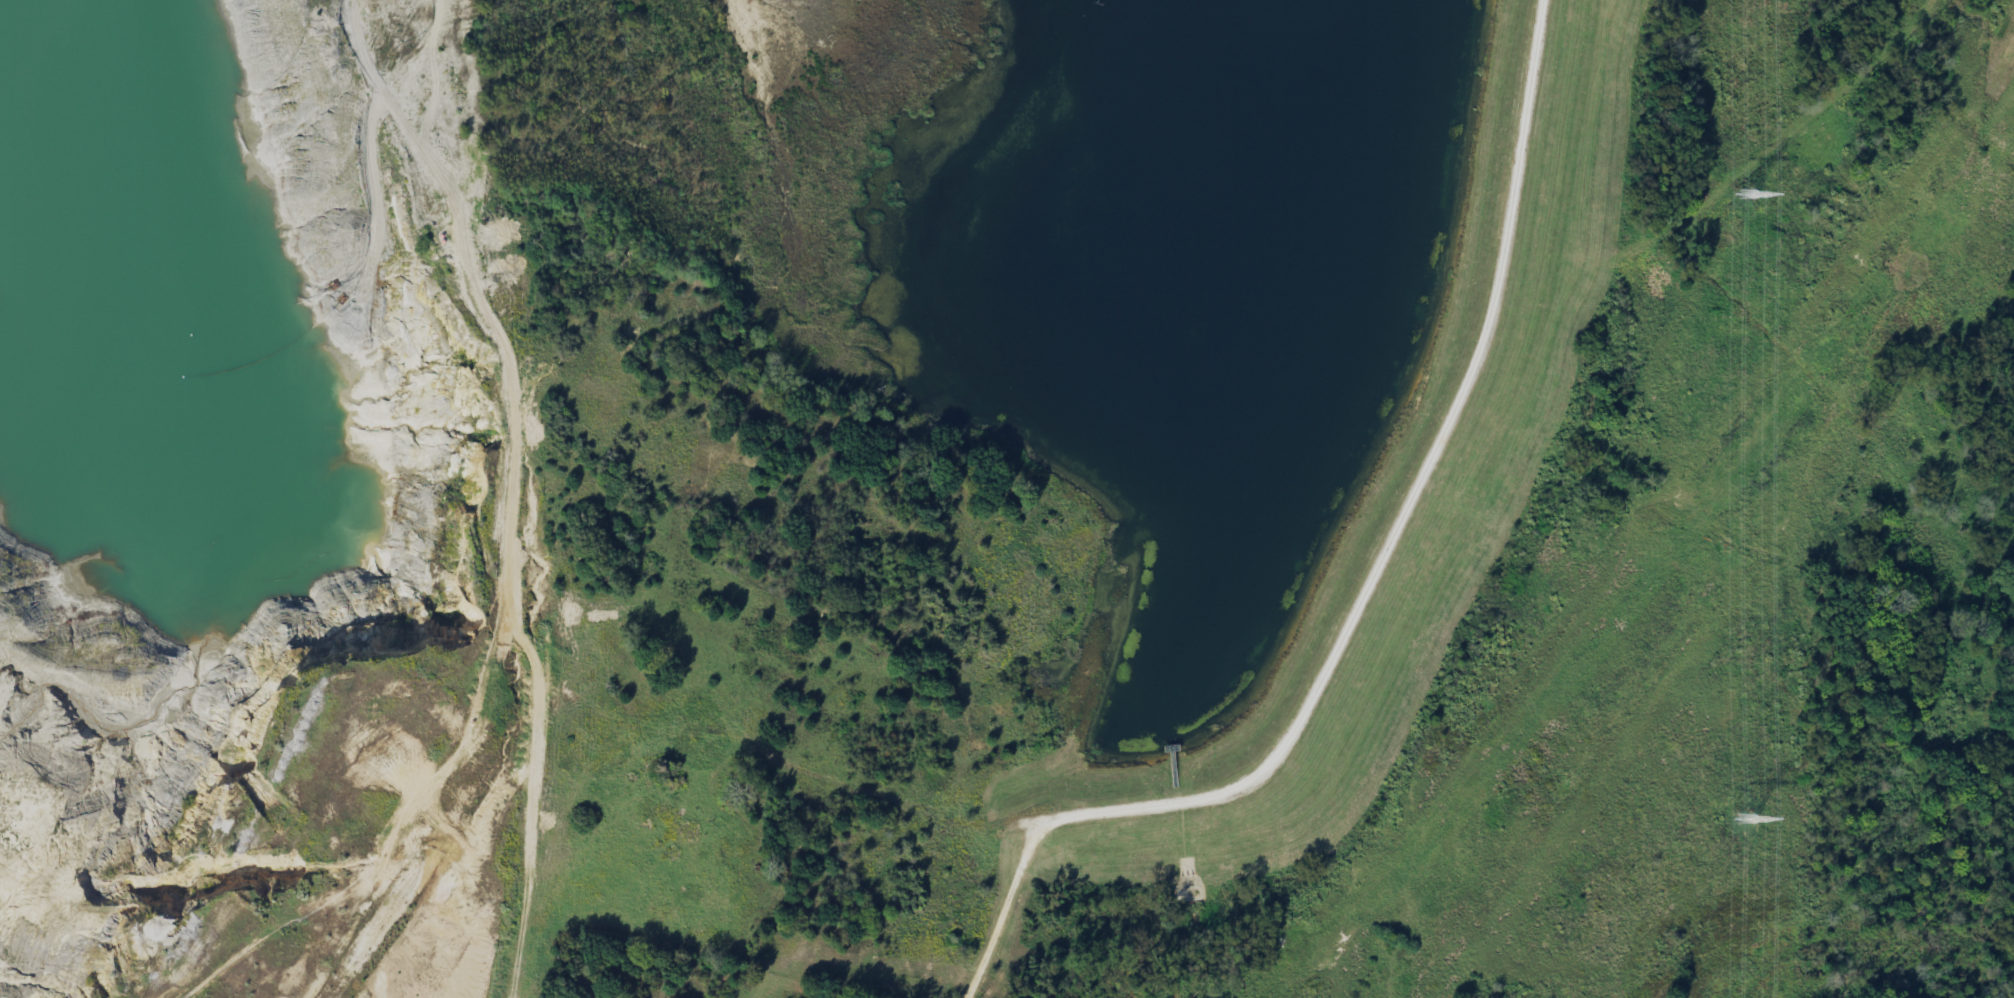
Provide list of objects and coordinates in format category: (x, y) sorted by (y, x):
power tower: (1750, 196)
quarry: (236, 516)
power tower: (1750, 818)

